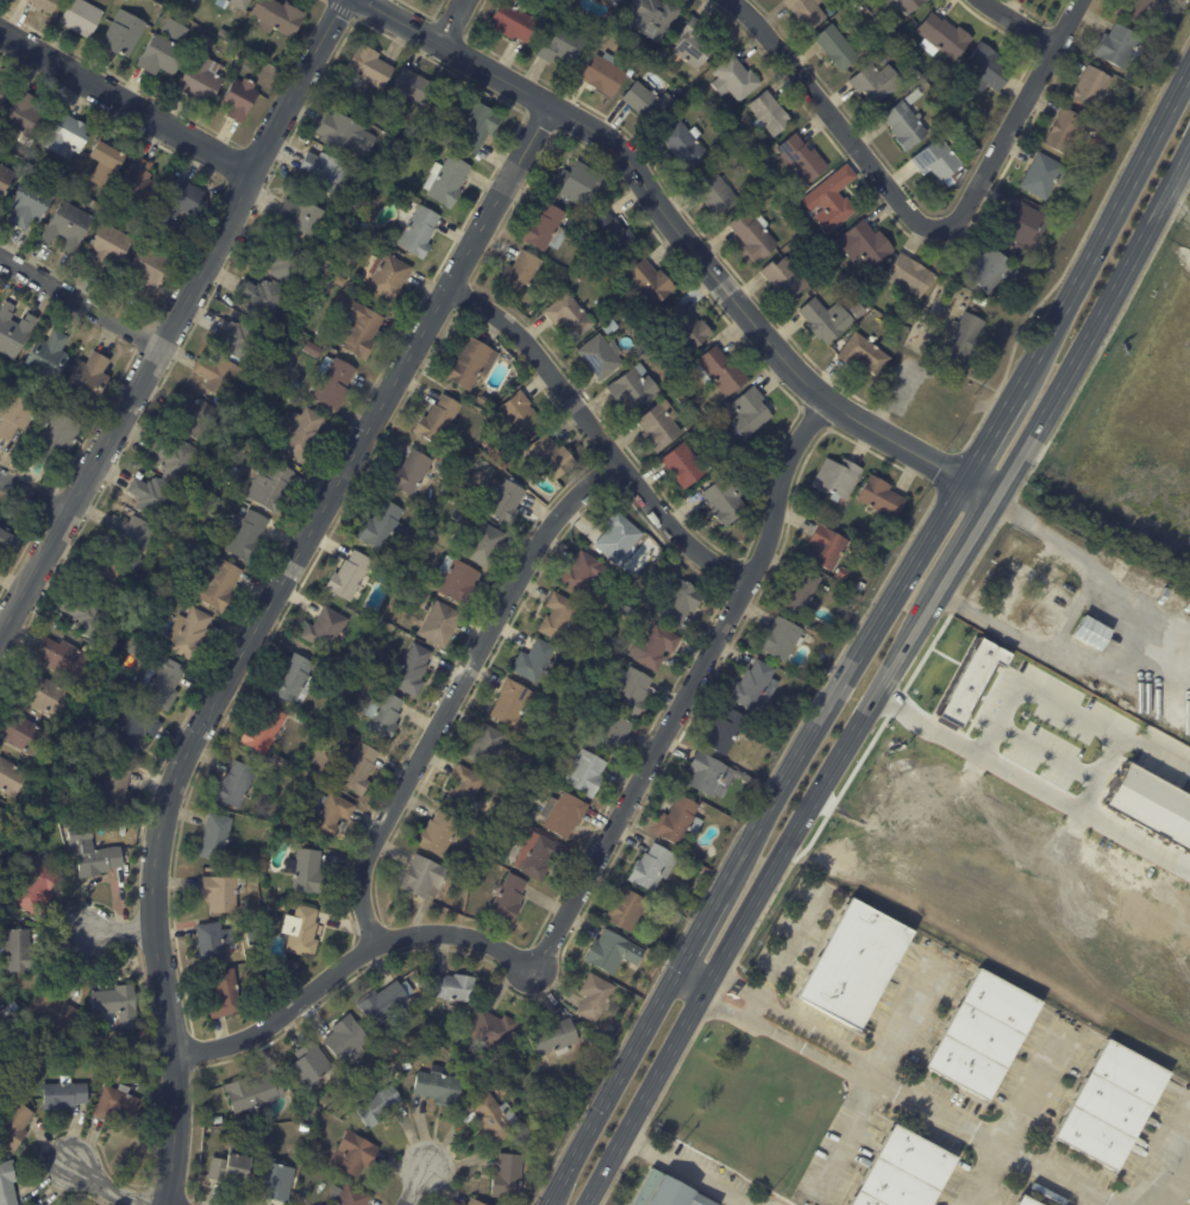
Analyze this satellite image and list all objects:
building: (126, 0)
building: (888, 0)
building: (890, 0)
building: (618, 1)
building: (238, 4)
building: (912, 5)
building: (42, 6)
building: (859, 6)
building: (833, 10)
building: (1135, 10)
building: (809, 12)
building: (651, 15)
building: (81, 18)
building: (277, 18)
road: (451, 21)
building: (513, 21)
building: (895, 24)
road: (1022, 24)
building: (174, 32)
building: (223, 34)
building: (123, 36)
building: (944, 37)
building: (690, 40)
building: (563, 44)
building: (1119, 45)
building: (839, 48)
building: (162, 57)
building: (369, 65)
building: (1111, 67)
building: (988, 70)
building: (603, 74)
building: (639, 74)
building: (201, 75)
building: (733, 76)
building: (261, 79)
building: (877, 81)
building: (415, 87)
building: (1092, 87)
building: (4, 89)
building: (914, 95)
building: (240, 100)
road: (125, 101)
building: (649, 102)
building: (731, 109)
building: (768, 112)
building: (25, 114)
building: (904, 123)
building: (940, 124)
building: (476, 127)
building: (1066, 132)
building: (343, 133)
building: (67, 136)
building: (421, 136)
building: (1111, 137)
building: (685, 145)
building: (720, 148)
building: (747, 149)
building: (938, 153)
building: (801, 158)
building: (105, 163)
building: (325, 172)
building: (1044, 176)
building: (5, 177)
building: (446, 180)
building: (578, 183)
building: (142, 186)
building: (718, 193)
building: (833, 199)
building: (181, 202)
building: (29, 203)
building: (574, 208)
building: (1070, 208)
road: (1172, 211)
building: (300, 215)
road: (922, 224)
building: (1023, 224)
building: (67, 226)
building: (416, 228)
building: (547, 228)
building: (614, 230)
building: (800, 230)
building: (754, 233)
road: (688, 239)
building: (869, 243)
building: (108, 246)
building: (288, 261)
building: (618, 264)
building: (991, 269)
building: (145, 270)
building: (520, 274)
building: (912, 275)
building: (389, 277)
building: (581, 277)
building: (785, 278)
building: (339, 281)
building: (651, 282)
building: (347, 288)
building: (997, 293)
road: (80, 300)
building: (267, 300)
building: (981, 300)
building: (915, 314)
road: (174, 315)
building: (571, 315)
building: (925, 319)
building: (827, 320)
building: (359, 327)
building: (610, 327)
building: (13, 330)
building: (691, 331)
building: (239, 338)
building: (964, 338)
building: (313, 349)
building: (865, 353)
building: (48, 357)
building: (601, 358)
building: (646, 360)
building: (470, 362)
building: (720, 371)
building: (219, 377)
building: (88, 379)
building: (333, 382)
building: (669, 383)
building: (295, 387)
building: (635, 388)
building: (294, 400)
building: (707, 409)
building: (750, 413)
building: (18, 415)
building: (462, 415)
building: (520, 415)
building: (200, 419)
building: (438, 420)
building: (660, 426)
building: (690, 427)
building: (303, 433)
road: (596, 434)
building: (57, 438)
building: (735, 447)
building: (494, 452)
building: (551, 457)
building: (175, 458)
building: (685, 465)
building: (231, 475)
building: (413, 475)
building: (838, 482)
building: (271, 487)
road: (32, 495)
building: (152, 496)
building: (882, 497)
building: (727, 501)
building: (506, 502)
building: (213, 504)
building: (457, 515)
building: (383, 526)
building: (132, 534)
building: (246, 535)
building: (618, 539)
building: (7, 541)
building: (484, 545)
building: (829, 547)
building: (641, 569)
building: (581, 572)
road: (1022, 572)
building: (349, 573)
building: (843, 573)
building: (413, 576)
building: (112, 577)
building: (457, 580)
building: (218, 584)
building: (860, 585)
building: (825, 589)
building: (801, 592)
building: (681, 603)
building: (652, 614)
building: (92, 617)
building: (558, 617)
building: (440, 625)
road: (255, 628)
building: (326, 629)
building: (1092, 632)
building: (189, 634)
road: (870, 636)
building: (781, 640)
road: (1132, 641)
building: (654, 647)
building: (136, 649)
building: (64, 658)
building: (534, 663)
building: (364, 665)
building: (412, 671)
road: (889, 672)
building: (294, 680)
building: (162, 684)
building: (756, 686)
road: (689, 688)
road: (456, 689)
building: (1106, 692)
building: (633, 693)
building: (45, 696)
building: (540, 696)
building: (512, 705)
building: (383, 717)
building: (318, 718)
building: (134, 730)
building: (264, 730)
building: (728, 732)
building: (612, 735)
building: (25, 736)
building: (486, 746)
building: (280, 764)
building: (357, 767)
building: (585, 774)
building: (708, 776)
building: (11, 778)
building: (234, 786)
building: (111, 787)
building: (465, 791)
building: (1152, 804)
building: (1, 815)
building: (330, 815)
building: (564, 815)
building: (716, 817)
building: (678, 822)
building: (439, 834)
building: (217, 837)
building: (92, 855)
building: (541, 858)
building: (652, 868)
building: (305, 870)
building: (424, 879)
building: (37, 892)
building: (221, 896)
building: (507, 899)
building: (280, 906)
building: (271, 908)
building: (627, 911)
building: (10, 914)
building: (300, 929)
road: (120, 933)
building: (212, 942)
road: (783, 950)
building: (19, 952)
building: (612, 954)
building: (240, 960)
road: (351, 962)
road: (699, 964)
building: (854, 964)
building: (453, 986)
road: (684, 990)
building: (227, 992)
building: (595, 998)
building: (384, 1004)
building: (114, 1005)
building: (51, 1009)
building: (10, 1010)
road: (788, 1018)
building: (491, 1029)
building: (983, 1034)
building: (553, 1036)
road: (778, 1037)
building: (347, 1038)
building: (392, 1046)
building: (129, 1049)
building: (98, 1065)
building: (407, 1066)
building: (311, 1068)
road: (878, 1073)
building: (484, 1075)
building: (439, 1086)
building: (543, 1092)
building: (64, 1093)
building: (253, 1093)
building: (119, 1104)
building: (378, 1105)
building: (1110, 1105)
road: (1016, 1115)
building: (496, 1118)
building: (14, 1124)
building: (305, 1126)
road: (982, 1136)
building: (353, 1154)
road: (1163, 1160)
building: (230, 1169)
road: (685, 1171)
building: (904, 1172)
building: (508, 1175)
building: (275, 1180)
building: (7, 1182)
road: (422, 1186)
road: (106, 1187)
building: (666, 1192)
building: (349, 1195)
building: (1027, 1200)
building: (474, 1201)
road: (769, 1204)

